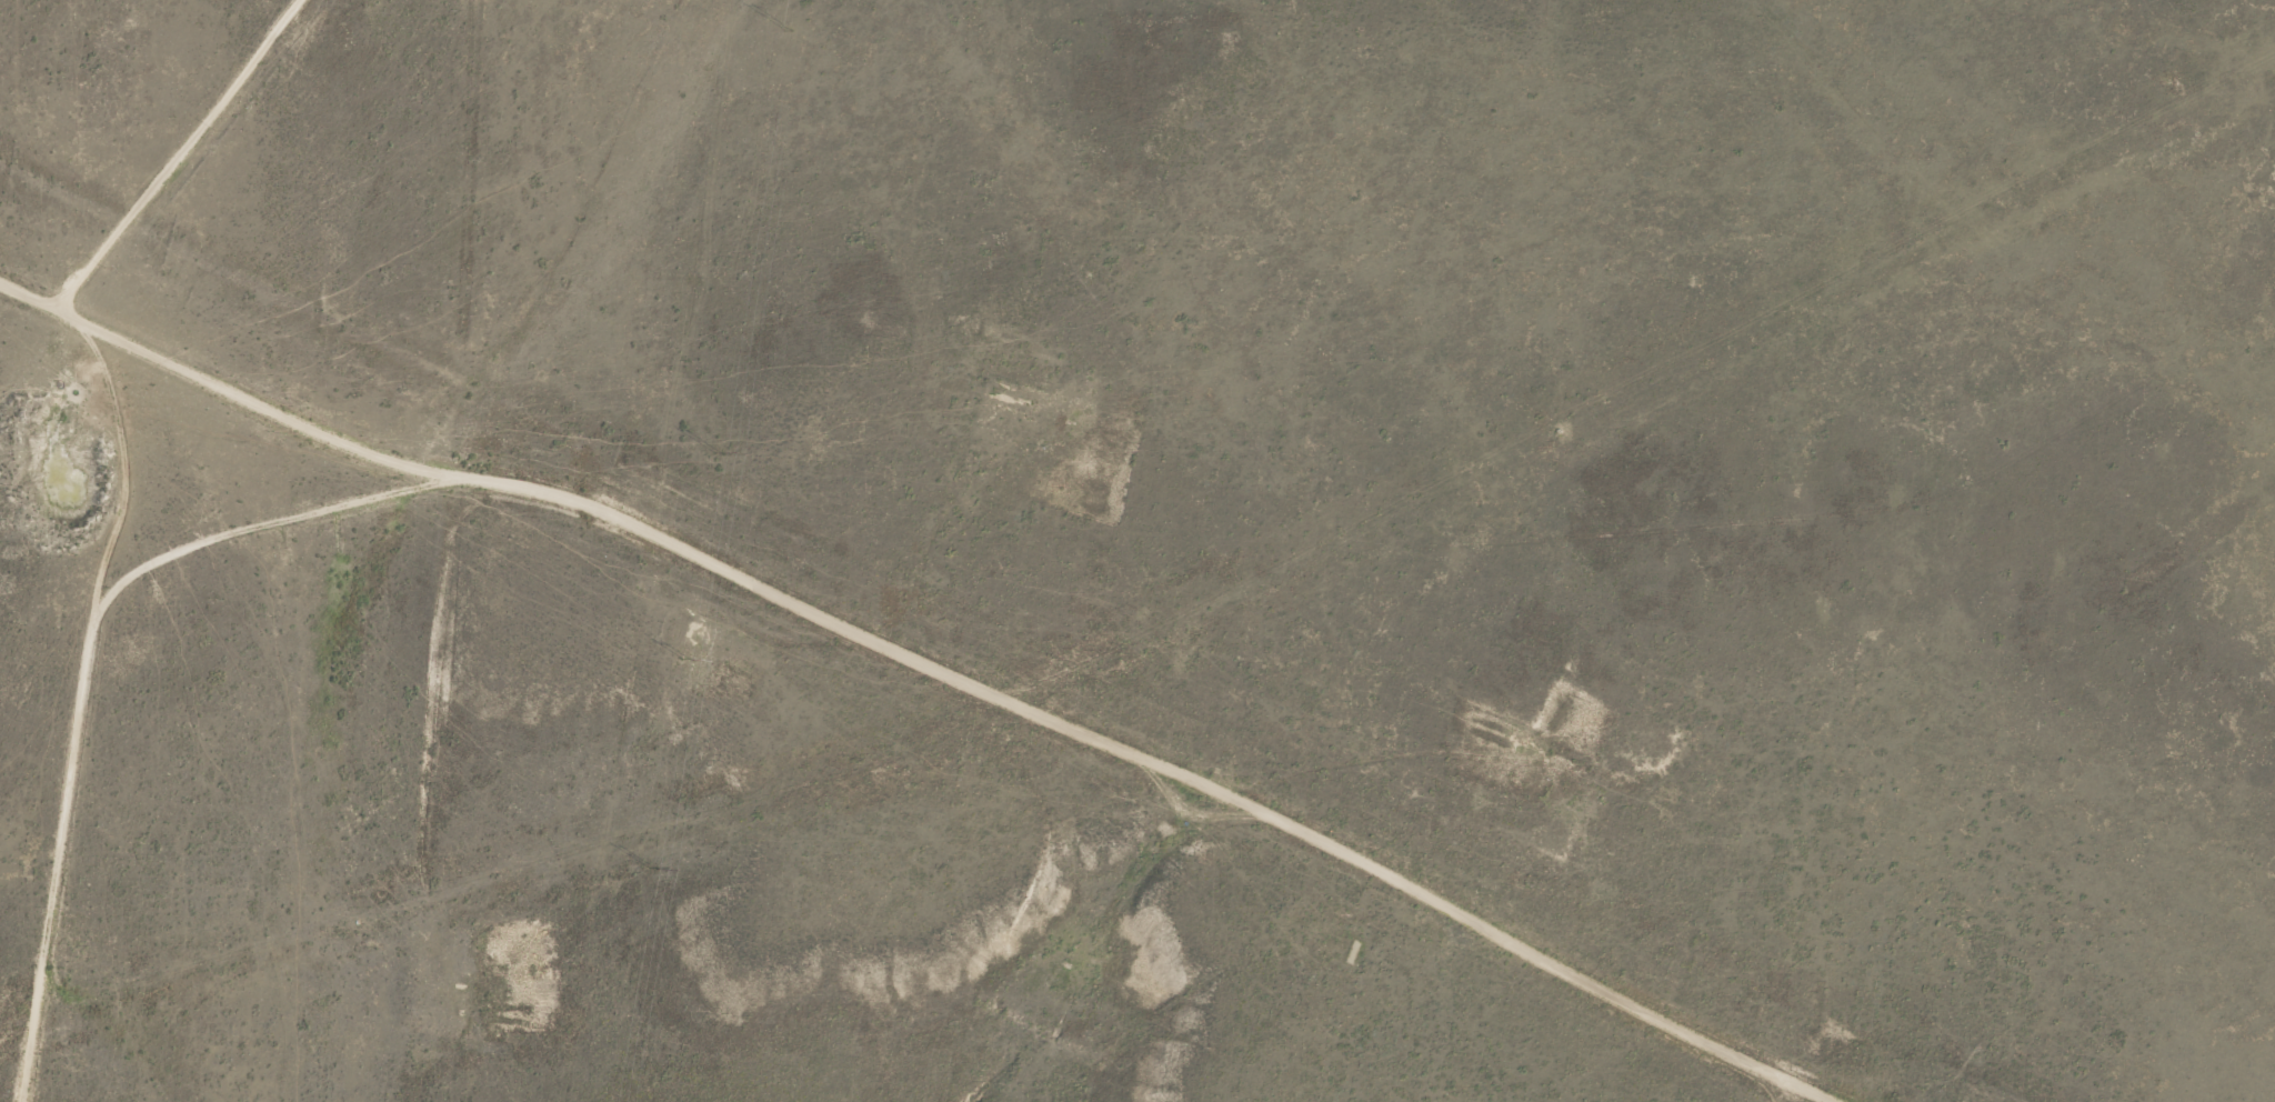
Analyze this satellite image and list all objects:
power tower: (786, 29)
road: (161, 148)
road: (269, 405)
power tower: (718, 453)
road: (1524, 513)
road: (778, 590)
power tower: (653, 868)

